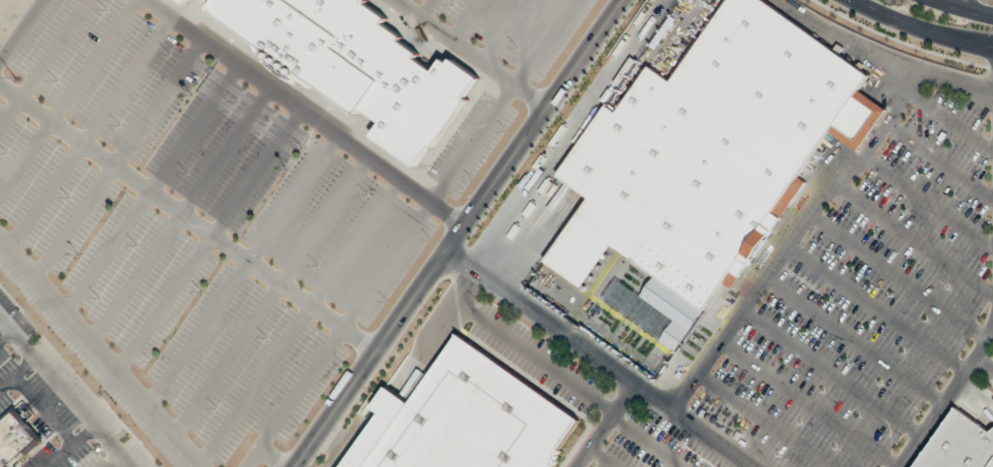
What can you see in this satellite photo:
building: (186, 0)
building: (184, 1)
road: (959, 4)
road: (428, 9)
road: (962, 9)
road: (465, 19)
road: (924, 28)
road: (21, 29)
road: (504, 30)
road: (471, 53)
road: (881, 60)
road: (43, 62)
building: (353, 64)
road: (896, 74)
road: (884, 90)
road: (68, 96)
road: (305, 112)
road: (940, 117)
road: (861, 122)
road: (89, 131)
road: (569, 137)
road: (118, 157)
building: (709, 157)
road: (941, 161)
road: (837, 165)
road: (153, 188)
road: (929, 202)
road: (181, 214)
road: (187, 217)
road: (409, 233)
road: (458, 233)
road: (915, 238)
road: (210, 240)
road: (786, 250)
road: (242, 269)
road: (898, 276)
road: (271, 296)
road: (877, 308)
road: (300, 322)
road: (5, 335)
road: (855, 339)
road: (525, 350)
road: (101, 351)
road: (597, 359)
road: (982, 363)
road: (832, 372)
road: (17, 374)
road: (65, 393)
road: (946, 396)
road: (809, 404)
road: (46, 409)
building: (464, 419)
road: (766, 420)
road: (604, 426)
road: (336, 433)
building: (16, 438)
road: (648, 441)
road: (346, 443)
building: (959, 444)
road: (70, 446)
road: (604, 456)
road: (272, 457)
road: (114, 461)

